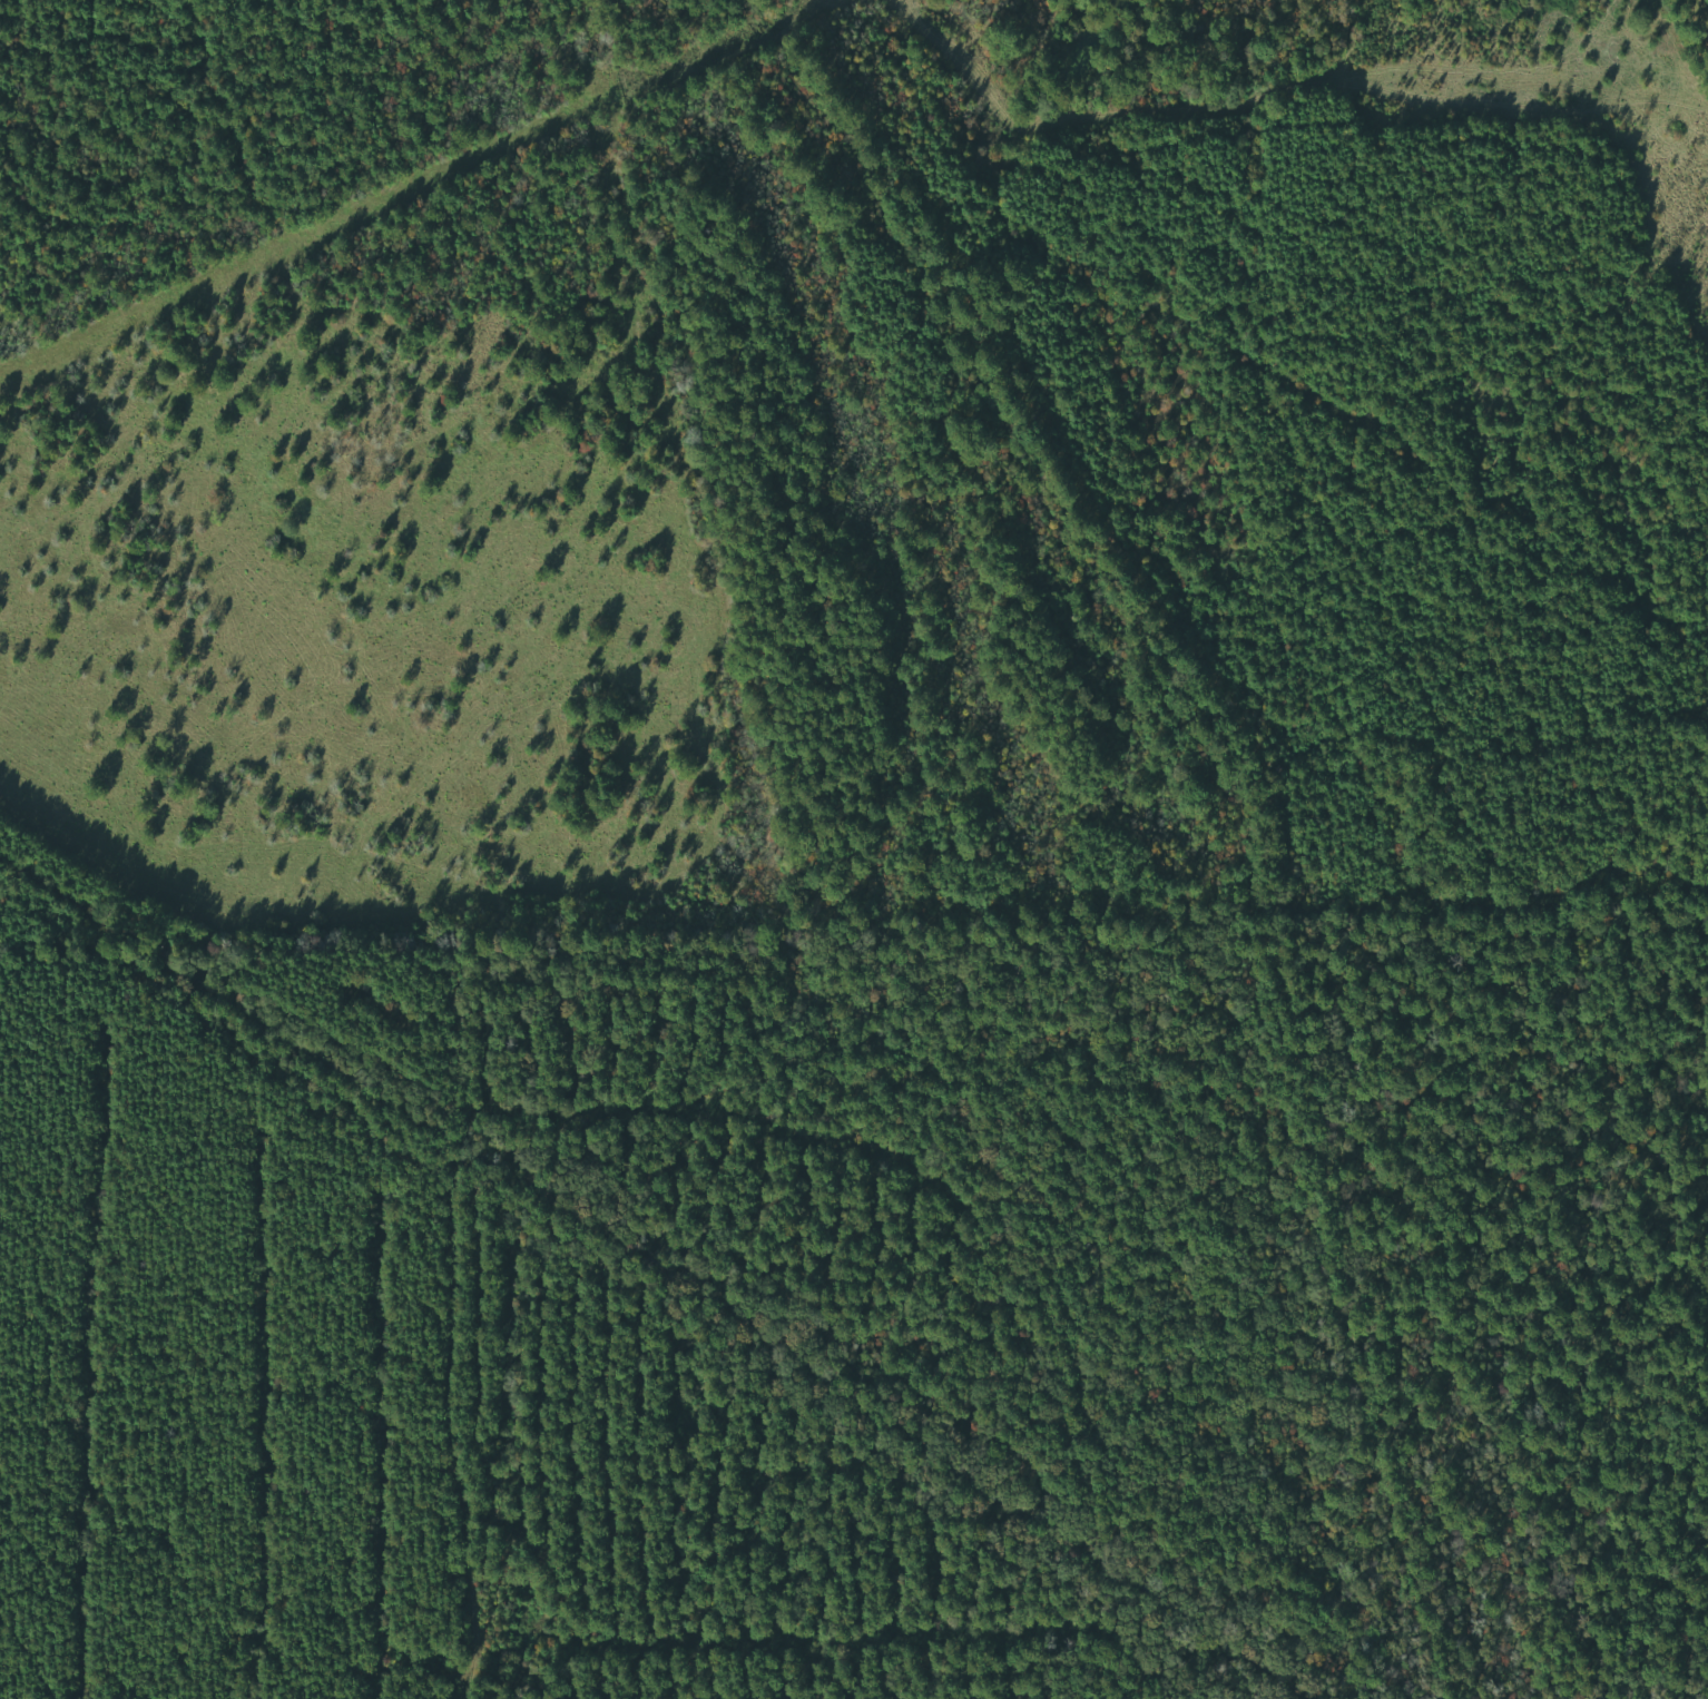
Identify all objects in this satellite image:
road: (1700, 13)

